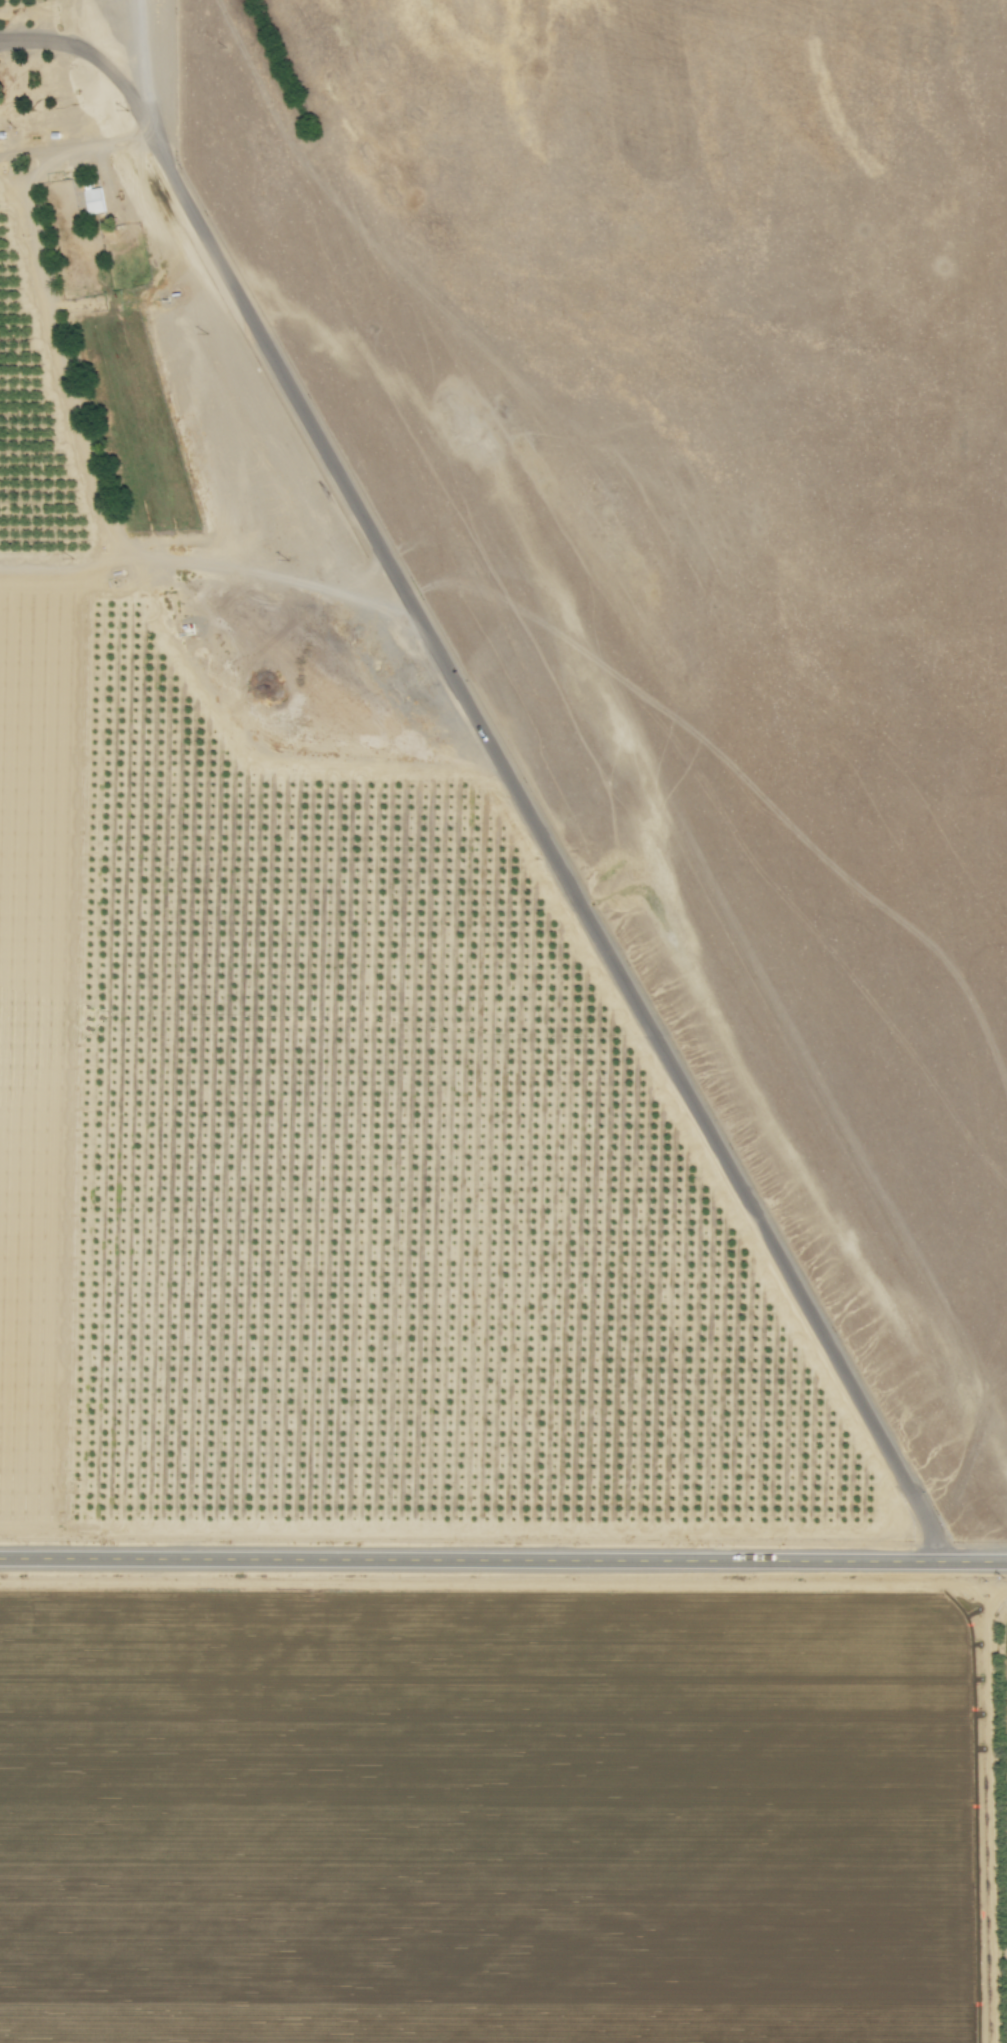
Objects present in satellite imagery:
building: (94, 201)
road: (521, 791)
road: (503, 1562)

